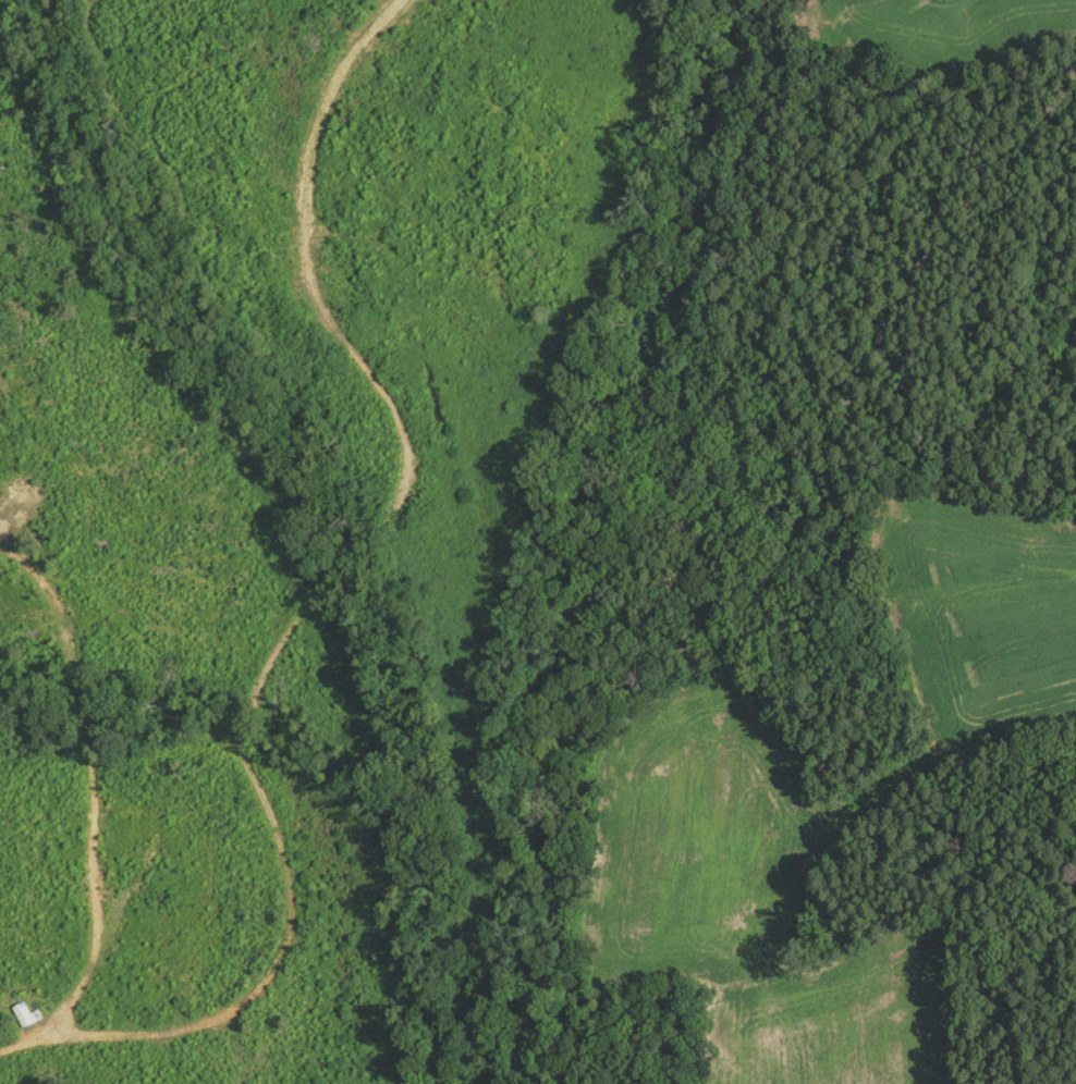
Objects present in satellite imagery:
building: (24, 1012)
road: (26, 1042)

